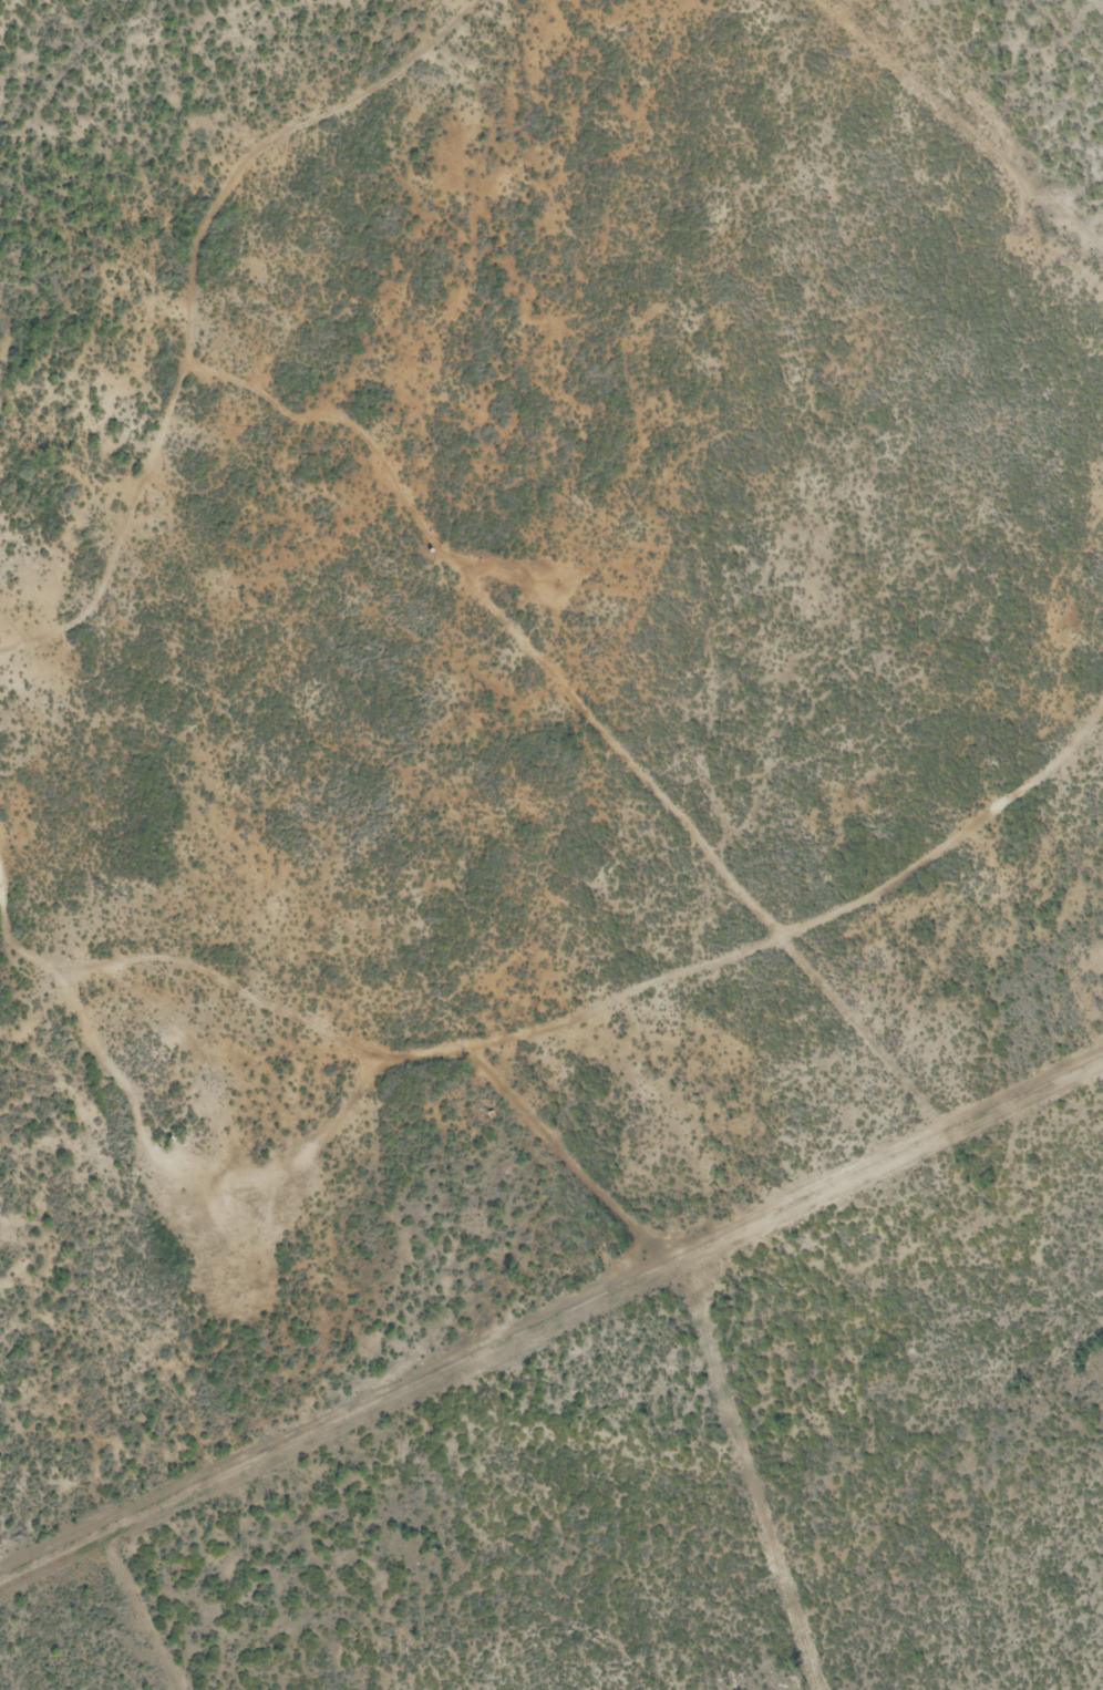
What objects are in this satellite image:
road: (199, 302)
road: (529, 1031)

